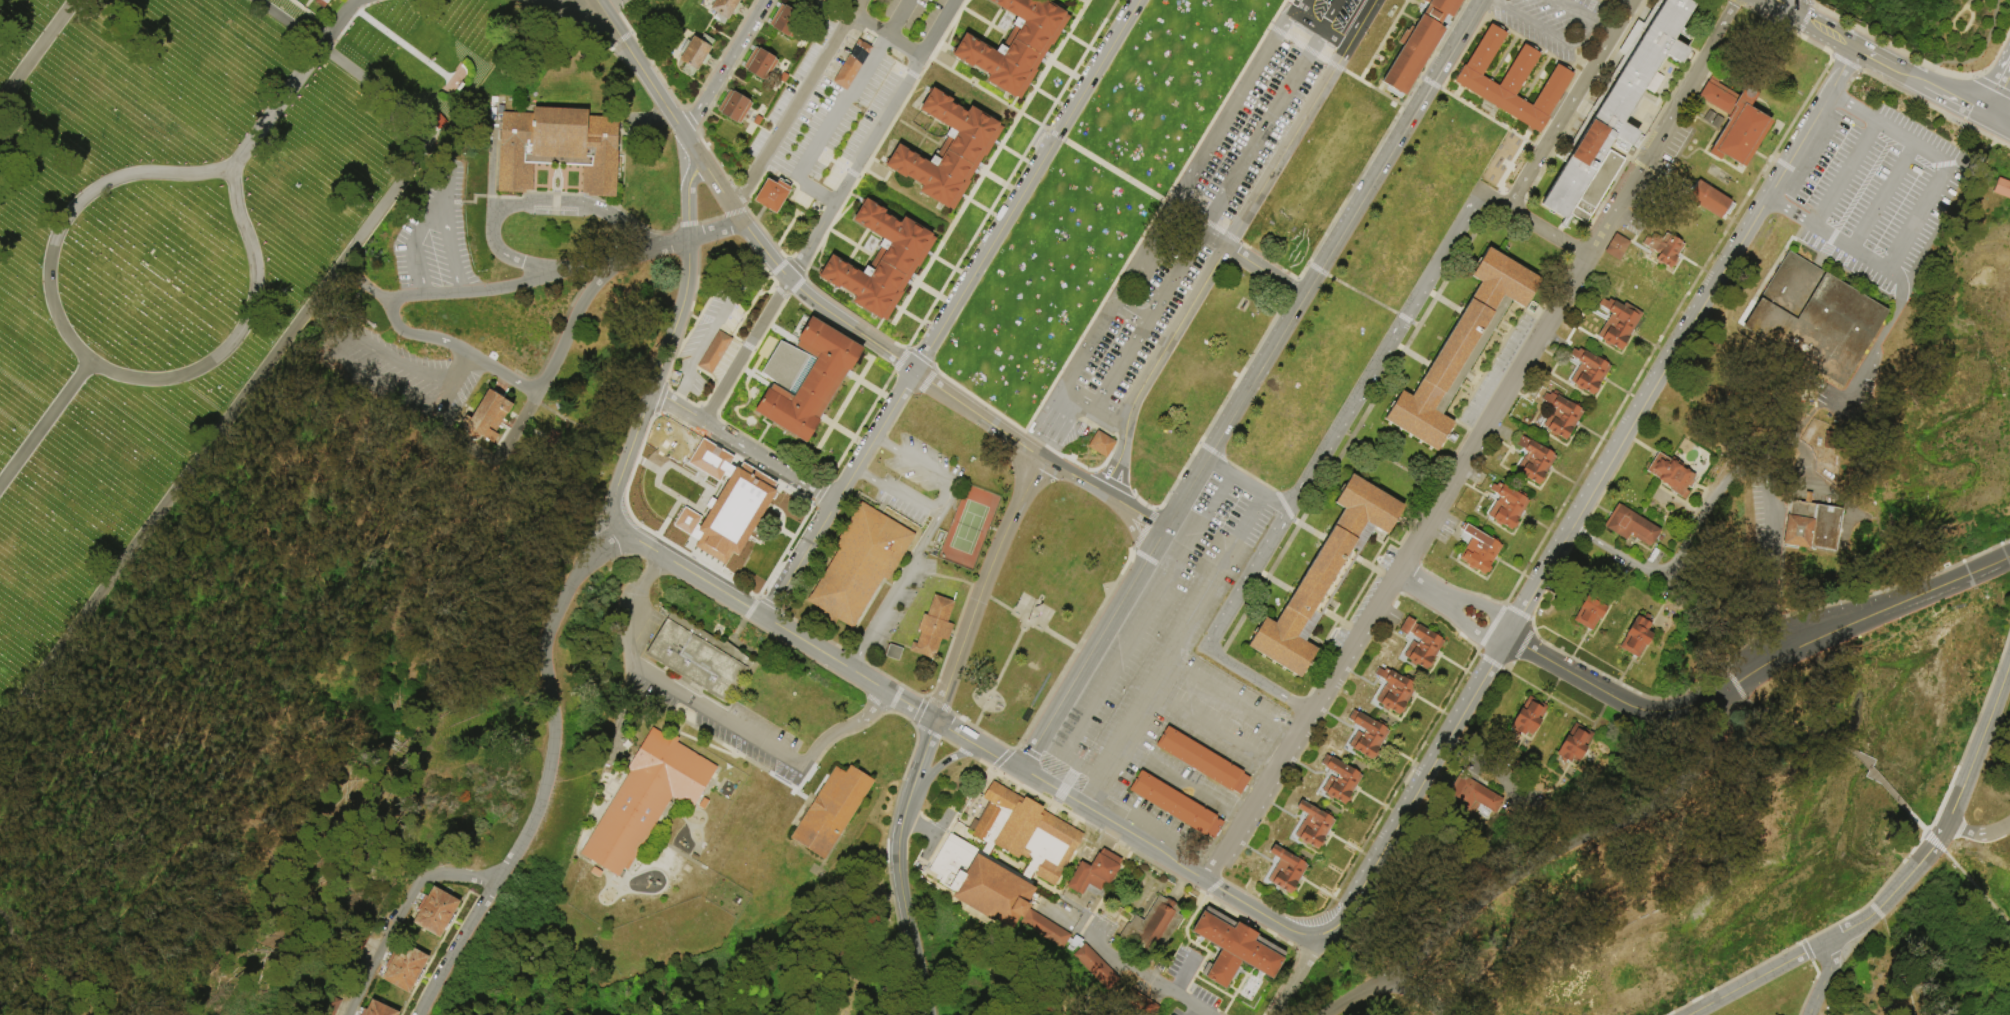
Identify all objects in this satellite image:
road: (516, 0)
road: (518, 0)
building: (831, 0)
road: (1137, 0)
road: (1499, 0)
building: (323, 1)
building: (825, 1)
road: (1082, 1)
road: (1085, 1)
road: (1412, 2)
road: (1966, 3)
road: (558, 5)
road: (1290, 5)
road: (1780, 7)
road: (1795, 7)
building: (725, 9)
building: (1437, 9)
road: (1572, 10)
road: (1615, 10)
road: (350, 18)
road: (1281, 21)
road: (338, 22)
building: (786, 22)
parking lot: (1546, 22)
road: (1536, 23)
road: (1363, 24)
road: (1602, 26)
road: (1317, 30)
road: (1825, 31)
road: (1960, 33)
road: (1585, 35)
road: (885, 36)
road: (1441, 38)
road: (1381, 39)
road: (398, 42)
building: (1017, 46)
road: (1085, 46)
road: (1304, 48)
road: (36, 50)
road: (1462, 50)
building: (696, 53)
road: (644, 54)
building: (1410, 54)
road: (1974, 58)
flagpole: (426, 62)
road: (1844, 63)
building: (761, 64)
building: (853, 65)
road: (345, 66)
road: (638, 67)
road: (723, 67)
road: (1893, 67)
road: (1983, 69)
road: (1999, 69)
road: (2000, 69)
road: (1068, 73)
building: (1512, 81)
road: (1429, 82)
road: (1371, 86)
road: (1935, 87)
road: (2007, 88)
road: (854, 89)
road: (1410, 90)
road: (717, 91)
road: (1959, 92)
road: (1950, 96)
road: (1052, 100)
road: (1948, 102)
road: (1574, 103)
road: (1923, 103)
road: (278, 104)
road: (795, 104)
building: (1618, 105)
building: (735, 107)
road: (1277, 107)
road: (1798, 108)
road: (2008, 110)
road: (1227, 111)
road: (688, 118)
building: (1709, 118)
road: (1493, 120)
road: (1980, 121)
building: (1717, 122)
building: (1735, 122)
road: (2001, 125)
road: (1662, 126)
road: (1046, 130)
building: (559, 149)
building: (949, 152)
road: (1972, 153)
road: (1018, 157)
road: (1943, 161)
road: (989, 164)
road: (1785, 165)
road: (1010, 173)
road: (1845, 176)
parking lot: (1877, 180)
road: (1002, 183)
road: (1026, 185)
building: (1598, 186)
building: (2001, 188)
road: (818, 190)
road: (849, 191)
road: (1748, 191)
road: (736, 193)
road: (447, 194)
building: (772, 196)
road: (1880, 197)
building: (1708, 200)
road: (526, 203)
road: (1195, 203)
road: (492, 205)
road: (986, 210)
road: (829, 212)
road: (451, 213)
road: (1152, 215)
road: (751, 217)
road: (428, 219)
road: (1331, 220)
parking lot: (1190, 221)
road: (1204, 223)
road: (1206, 223)
road: (1341, 229)
road: (1552, 230)
parking lot: (434, 233)
road: (1827, 238)
road: (1713, 246)
road: (654, 248)
road: (1146, 248)
building: (1617, 248)
building: (1664, 248)
park: (290, 249)
building: (883, 262)
road: (777, 266)
road: (794, 266)
road: (1216, 267)
road: (951, 268)
road: (1316, 268)
road: (780, 270)
road: (1266, 270)
road: (362, 283)
road: (794, 286)
road: (477, 291)
road: (779, 291)
road: (935, 295)
road: (1367, 297)
road: (1155, 307)
road: (1674, 309)
building: (1815, 319)
road: (571, 322)
road: (918, 322)
road: (1890, 322)
building: (1619, 324)
road: (1096, 330)
road: (677, 334)
road: (412, 335)
road: (341, 347)
building: (713, 351)
road: (918, 355)
building: (1459, 355)
road: (898, 358)
road: (90, 360)
road: (933, 367)
road: (499, 372)
building: (1589, 372)
building: (812, 381)
road: (922, 383)
road: (877, 390)
road: (907, 395)
road: (1853, 399)
road: (978, 400)
road: (844, 402)
road: (1094, 410)
road: (895, 415)
road: (978, 415)
road: (1349, 415)
building: (489, 416)
building: (1561, 417)
road: (45, 421)
road: (858, 426)
road: (218, 430)
road: (850, 435)
road: (880, 441)
road: (888, 444)
building: (1100, 444)
road: (741, 449)
road: (459, 457)
road: (870, 457)
road: (658, 458)
road: (1391, 461)
building: (1534, 461)
road: (920, 464)
road: (862, 470)
building: (1672, 475)
road: (868, 476)
road: (1073, 477)
parking lot: (918, 481)
road: (673, 485)
road: (1247, 485)
road: (818, 492)
road: (1184, 493)
road: (839, 494)
road: (1591, 496)
road: (1110, 497)
road: (908, 499)
building: (1507, 506)
park: (1005, 507)
road: (1708, 509)
road: (1140, 514)
building: (734, 516)
road: (935, 516)
building: (1632, 526)
building: (1812, 526)
park: (968, 527)
building: (1462, 527)
road: (1546, 527)
road: (1132, 531)
road: (1773, 533)
road: (1153, 546)
road: (783, 550)
building: (1480, 551)
road: (1616, 553)
building: (857, 562)
road: (1396, 566)
road: (229, 568)
road: (687, 572)
road: (921, 574)
building: (1320, 580)
road: (1421, 586)
road: (982, 587)
road: (898, 593)
road: (1503, 602)
road: (768, 603)
road: (1483, 610)
building: (1591, 610)
road: (1516, 611)
road: (636, 615)
building: (1393, 617)
flagpole: (1025, 620)
road: (1776, 620)
road: (1531, 624)
building: (933, 625)
road: (1490, 625)
road: (1472, 627)
building: (1637, 637)
road: (1058, 638)
building: (1421, 645)
road: (1521, 646)
road: (862, 651)
building: (891, 652)
road: (1475, 652)
road: (1010, 655)
building: (697, 657)
parking lot: (1177, 660)
road: (1490, 661)
building: (1365, 664)
road: (1755, 664)
road: (1080, 667)
road: (850, 670)
road: (1507, 670)
road: (1735, 685)
road: (1624, 686)
road: (1268, 687)
building: (1395, 691)
road: (1550, 692)
road: (1222, 693)
road: (919, 696)
road: (893, 697)
road: (1553, 698)
road: (875, 702)
building: (1338, 708)
building: (1529, 717)
road: (714, 719)
road: (273, 721)
road: (1784, 721)
road: (1203, 724)
road: (1971, 729)
road: (835, 733)
building: (1368, 735)
road: (961, 736)
parking lot: (751, 737)
building: (1575, 745)
road: (1840, 748)
road: (1127, 751)
building: (1311, 752)
road: (924, 756)
building: (1201, 760)
road: (1003, 761)
road: (945, 763)
road: (1076, 770)
road: (552, 778)
building: (1340, 781)
road: (1882, 783)
road: (1183, 784)
building: (1472, 796)
building: (1284, 797)
building: (646, 802)
building: (1177, 807)
building: (831, 810)
road: (1236, 815)
road: (1916, 822)
building: (1314, 826)
road: (1978, 839)
building: (1257, 842)
road: (1933, 842)
building: (1006, 852)
road: (1557, 857)
road: (1992, 857)
road: (1170, 859)
building: (1287, 871)
building: (1096, 873)
road: (1621, 885)
road: (1901, 885)
road: (1976, 888)
road: (902, 903)
building: (436, 912)
road: (407, 914)
road: (1885, 924)
building: (1154, 926)
building: (1046, 929)
building: (354, 947)
building: (1235, 948)
road: (1121, 962)
building: (405, 968)
building: (1097, 968)
road: (1184, 968)
road: (13, 971)
road: (1829, 973)
road: (1301, 979)
road: (1906, 982)
road: (1173, 988)
road: (1099, 997)
road: (1417, 997)
building: (1140, 1004)
building: (330, 1005)
road: (1, 1010)
building: (379, 1010)
road: (1194, 1012)
road: (5, 1013)
road: (1448, 1013)

